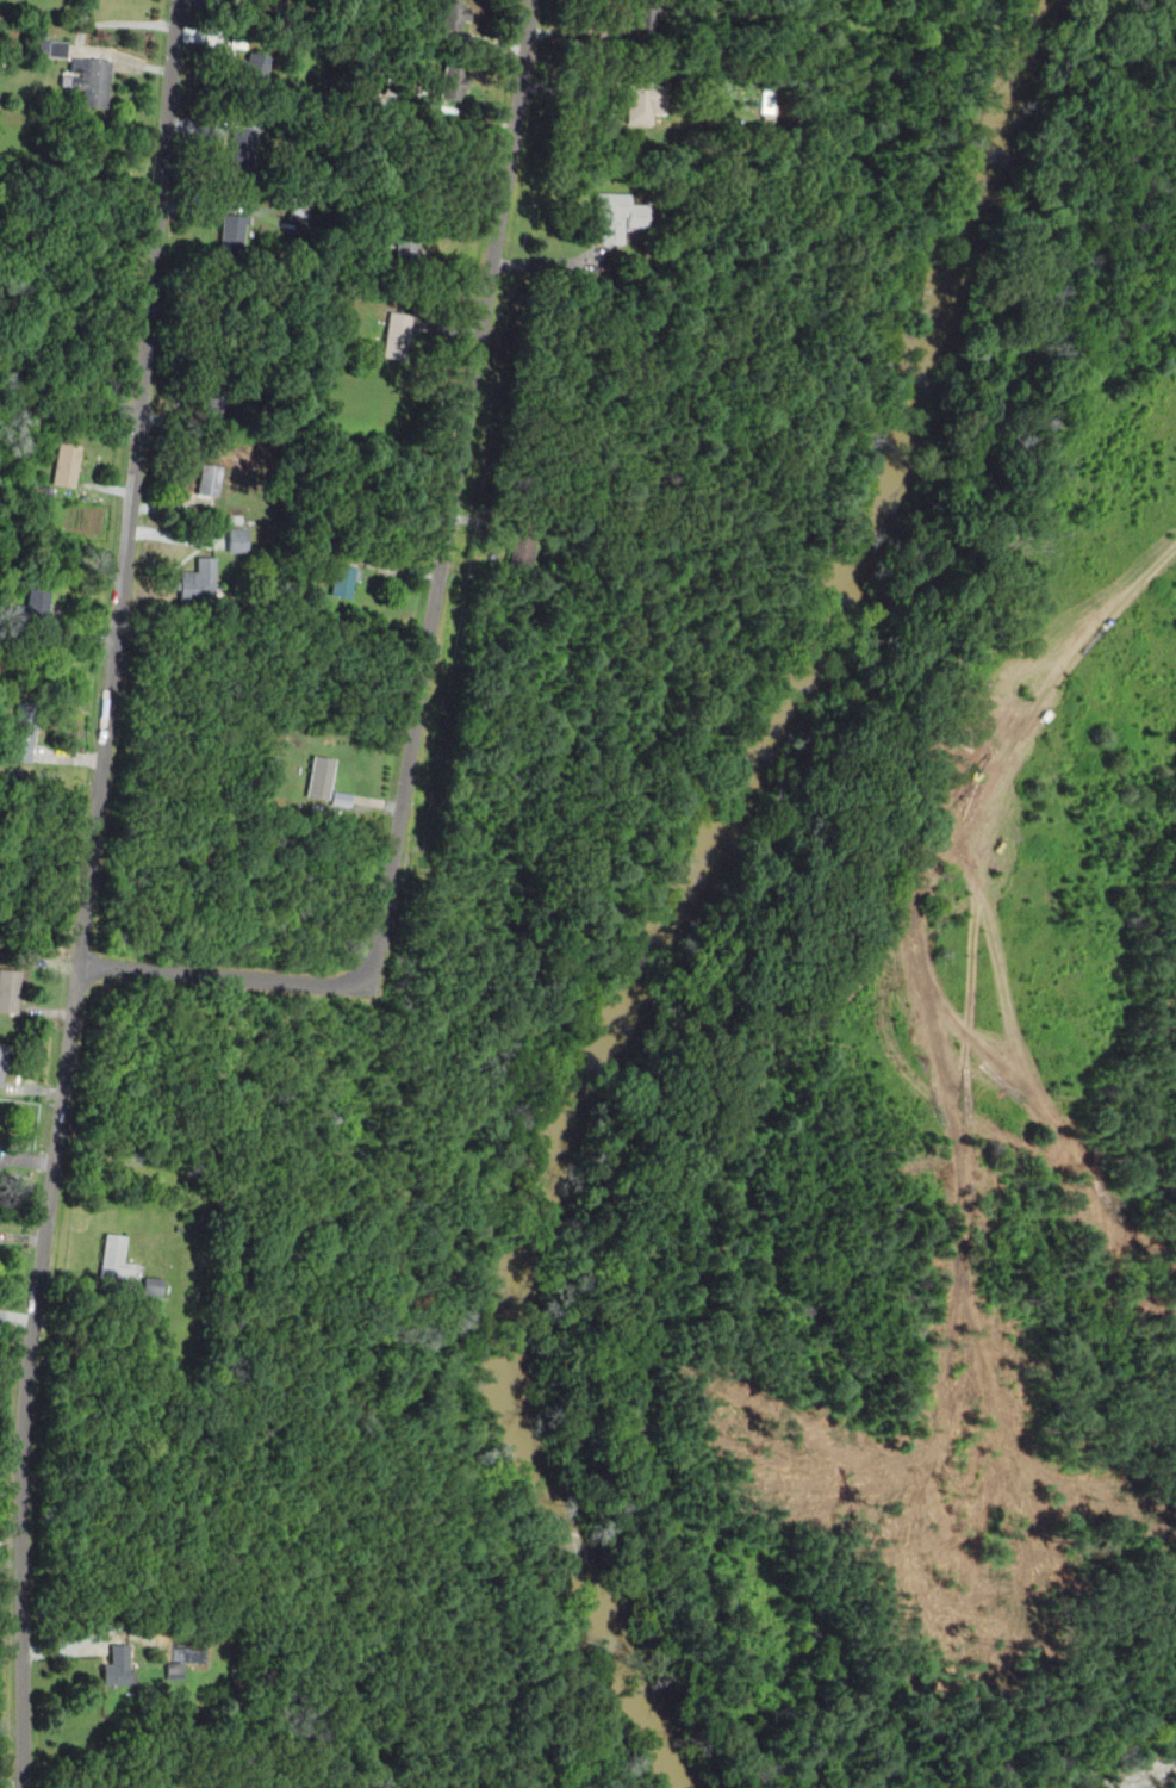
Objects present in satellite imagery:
building: (270, 0)
building: (645, 13)
building: (453, 14)
road: (80, 37)
building: (51, 49)
building: (253, 69)
building: (91, 81)
building: (453, 82)
building: (643, 99)
building: (241, 149)
road: (216, 205)
building: (293, 212)
building: (617, 216)
building: (234, 232)
building: (407, 252)
building: (399, 335)
building: (217, 403)
building: (68, 464)
building: (212, 479)
building: (237, 540)
building: (524, 542)
building: (346, 579)
building: (200, 581)
building: (38, 600)
road: (430, 631)
building: (21, 732)
building: (319, 778)
road: (911, 888)
road: (89, 893)
river: (704, 893)
road: (746, 900)
building: (8, 991)
building: (2, 1060)
park: (922, 1086)
building: (114, 1258)
building: (153, 1284)
building: (116, 1664)
building: (174, 1666)
road: (1102, 1750)
river: (1164, 1782)

